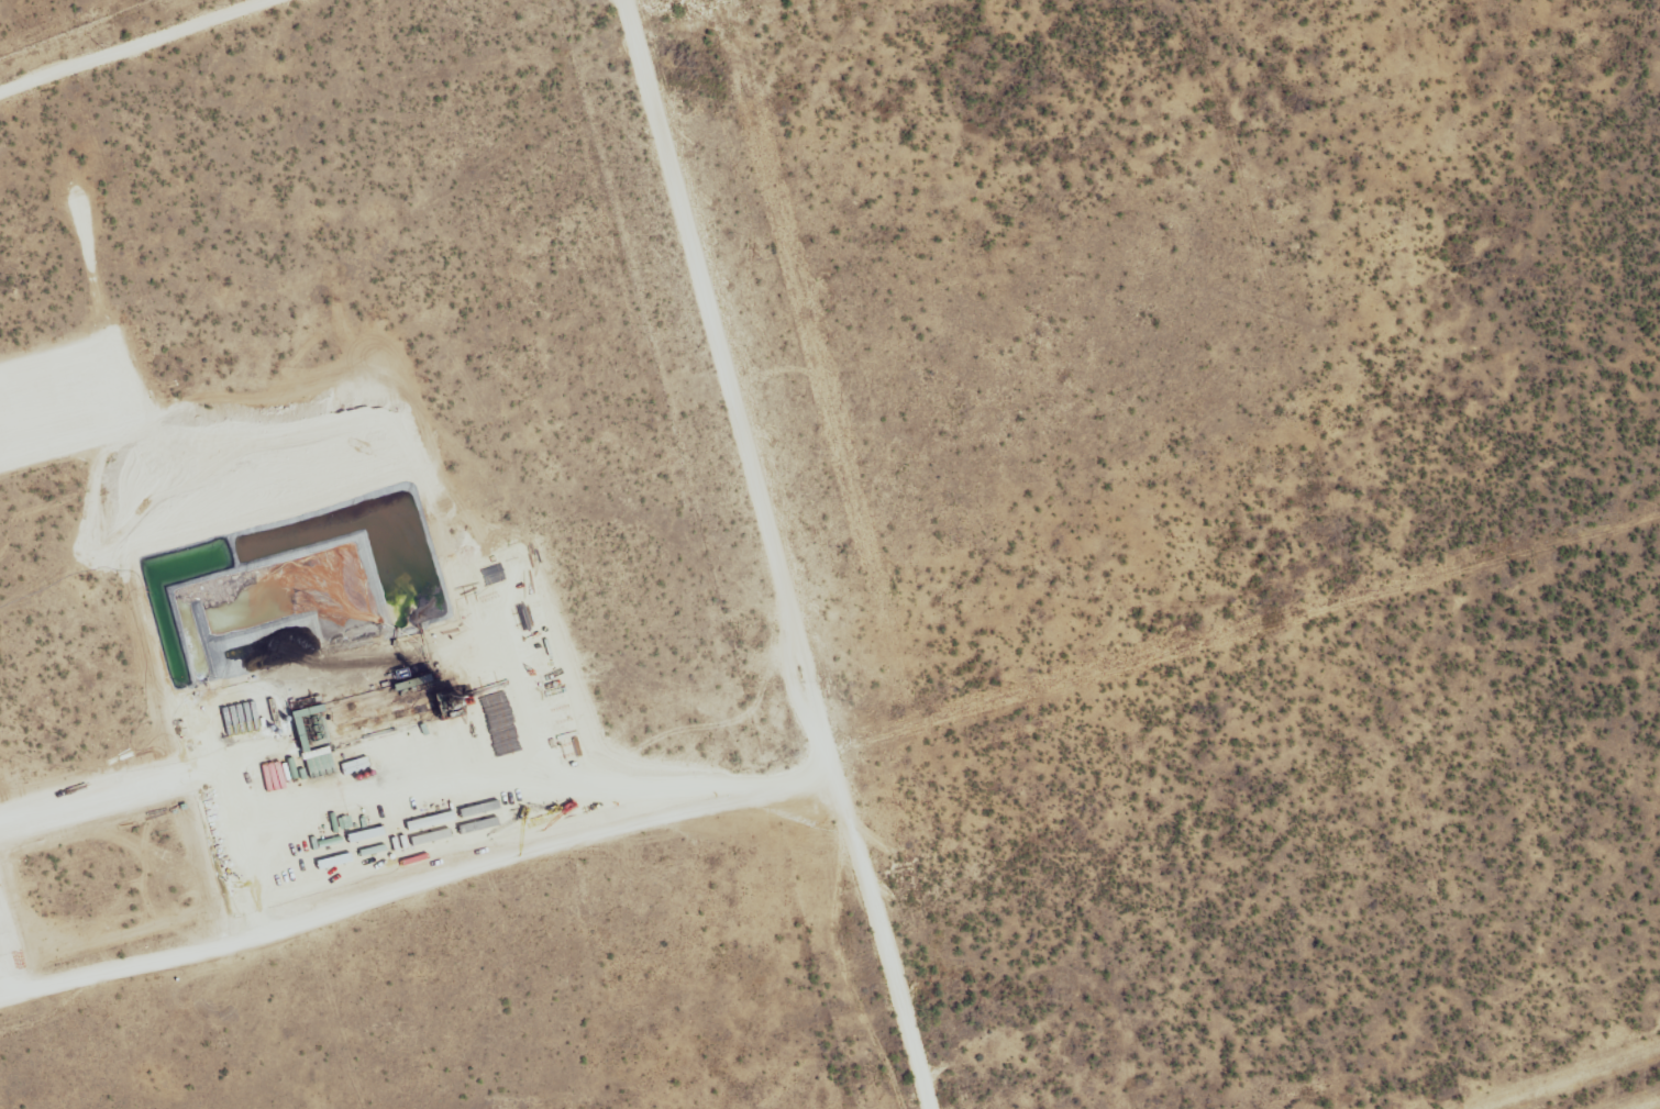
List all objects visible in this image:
road: (779, 555)
road: (416, 872)

